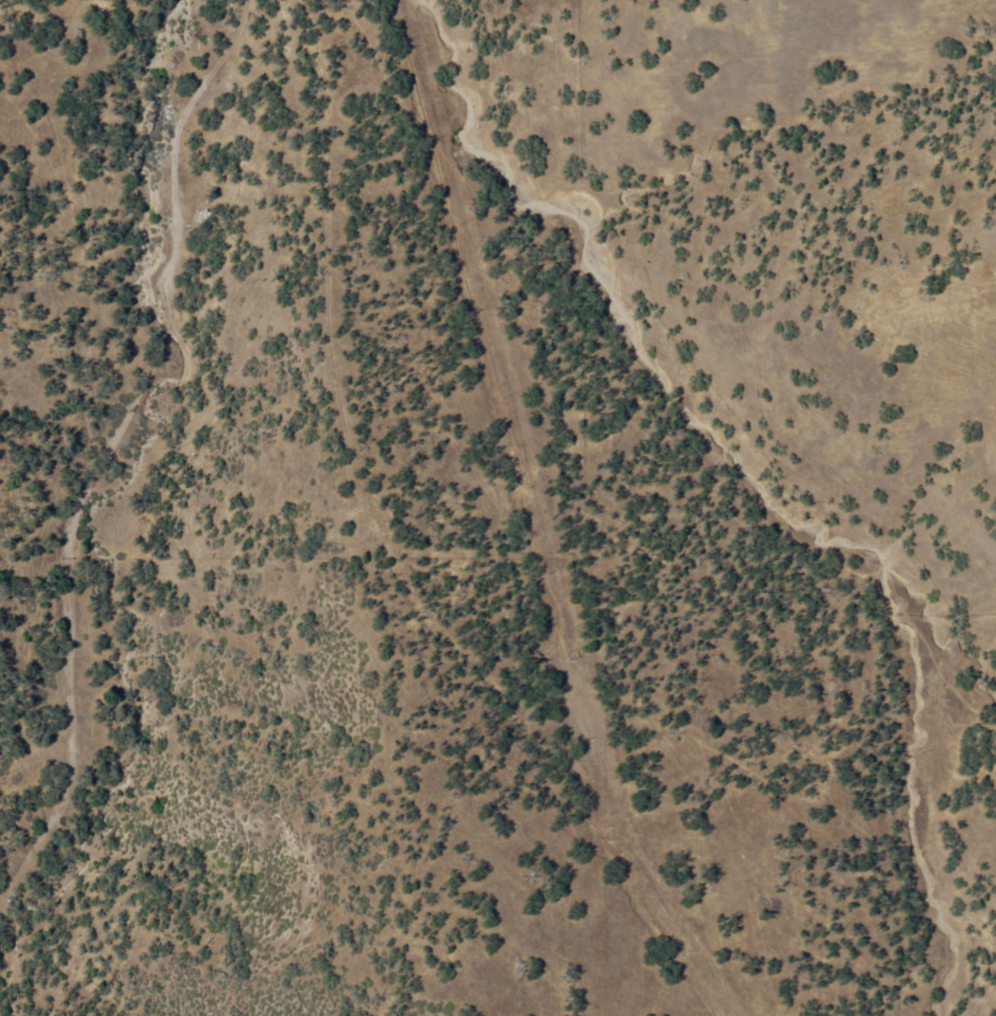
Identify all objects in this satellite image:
road: (118, 439)

